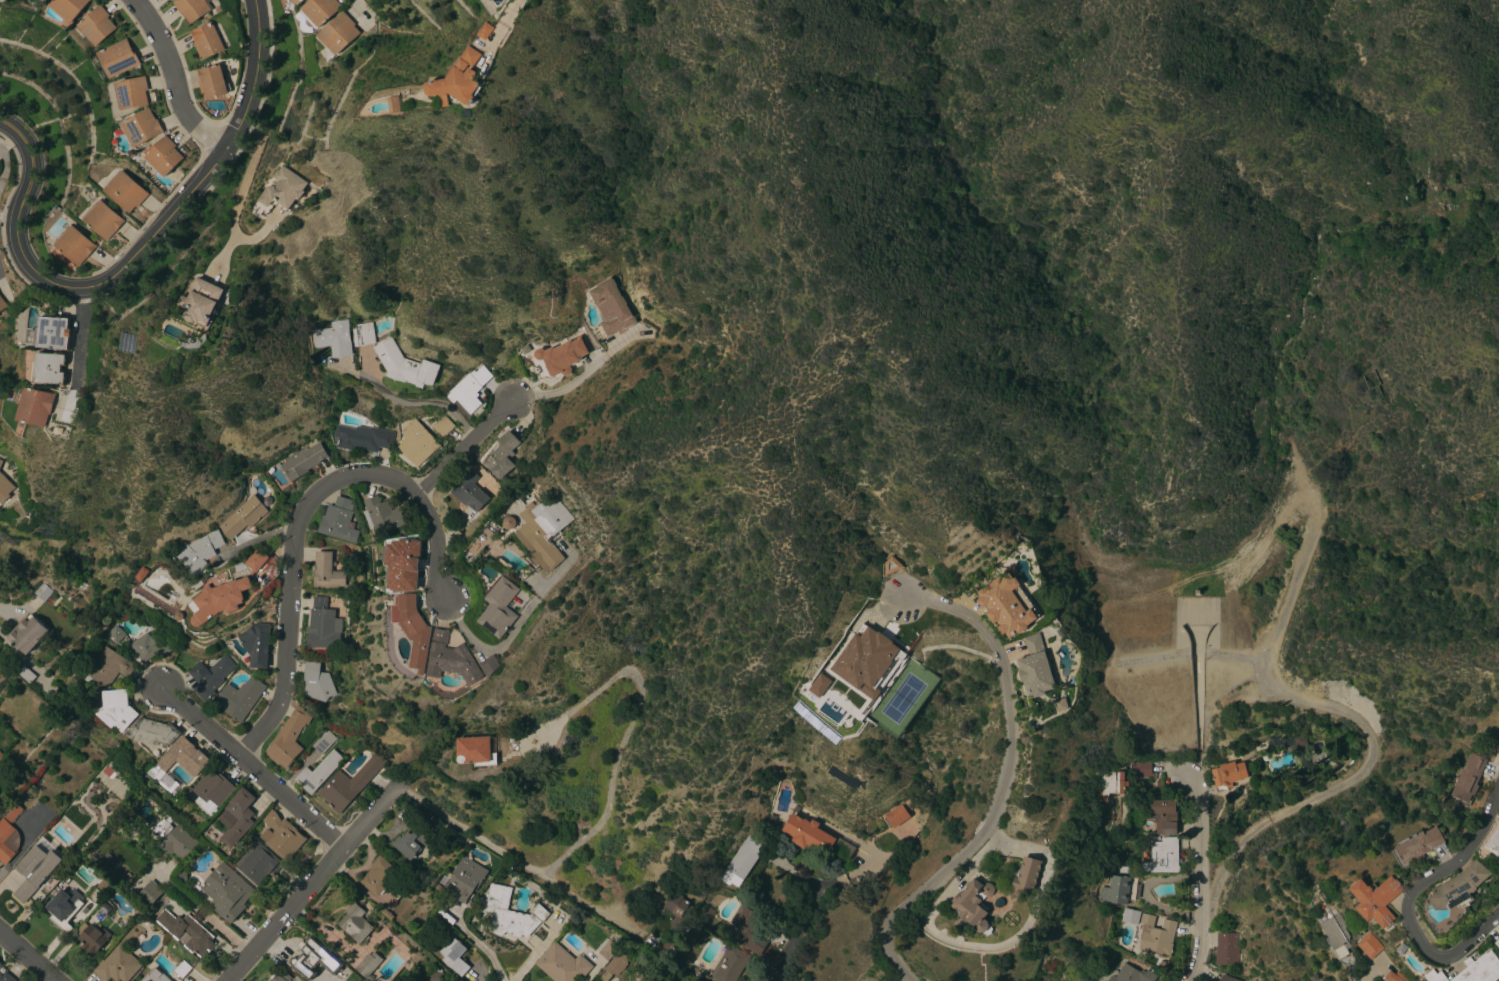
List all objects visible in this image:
building: (43, 0)
building: (44, 0)
building: (296, 2)
building: (69, 8)
building: (192, 8)
building: (319, 11)
road: (364, 11)
building: (97, 26)
building: (486, 31)
building: (337, 34)
building: (206, 40)
building: (119, 58)
road: (169, 80)
building: (460, 80)
building: (212, 82)
building: (133, 93)
building: (141, 127)
building: (163, 156)
building: (285, 189)
building: (125, 191)
road: (237, 206)
building: (102, 219)
building: (74, 245)
road: (138, 250)
building: (203, 302)
building: (2, 304)
building: (611, 307)
building: (52, 333)
building: (362, 334)
road: (78, 338)
building: (334, 338)
building: (560, 357)
building: (404, 365)
building: (49, 368)
road: (570, 384)
building: (469, 389)
road: (413, 403)
building: (37, 406)
building: (443, 426)
building: (363, 438)
building: (416, 442)
road: (467, 449)
building: (501, 455)
building: (0, 462)
building: (303, 462)
building: (4, 489)
building: (469, 492)
building: (382, 516)
building: (243, 517)
road: (295, 521)
building: (338, 521)
building: (540, 533)
building: (198, 552)
building: (256, 560)
building: (403, 564)
building: (891, 565)
building: (268, 566)
building: (326, 571)
building: (42, 592)
building: (218, 600)
building: (1006, 605)
building: (499, 607)
road: (17, 611)
building: (320, 624)
building: (414, 629)
building: (27, 633)
building: (115, 635)
building: (256, 644)
building: (151, 645)
road: (498, 651)
building: (452, 659)
building: (866, 661)
building: (490, 665)
building: (109, 668)
building: (1036, 668)
building: (26, 674)
building: (209, 676)
building: (318, 683)
building: (818, 685)
building: (239, 698)
building: (1061, 704)
building: (117, 710)
building: (153, 732)
road: (1370, 737)
building: (288, 739)
building: (1299, 740)
building: (323, 742)
building: (475, 751)
building: (183, 758)
road: (252, 770)
building: (1144, 770)
building: (318, 772)
building: (1228, 774)
building: (1469, 779)
road: (1007, 783)
building: (1109, 783)
building: (349, 784)
building: (212, 790)
building: (11, 811)
road: (611, 814)
building: (896, 816)
building: (1163, 816)
building: (237, 817)
building: (807, 834)
building: (281, 836)
building: (413, 838)
building: (8, 841)
building: (178, 842)
building: (1494, 842)
building: (1418, 846)
road: (25, 855)
building: (1162, 857)
road: (1200, 859)
building: (742, 861)
building: (258, 863)
road: (871, 868)
building: (34, 871)
building: (379, 876)
building: (1026, 877)
building: (465, 880)
road: (313, 883)
building: (1459, 887)
building: (1115, 891)
building: (227, 892)
building: (149, 894)
building: (1376, 900)
building: (973, 904)
road: (1409, 904)
building: (64, 909)
road: (601, 911)
building: (677, 912)
road: (206, 913)
building: (509, 913)
building: (1130, 916)
building: (355, 923)
building: (747, 928)
building: (186, 932)
building: (1156, 935)
building: (1338, 935)
road: (798, 936)
building: (92, 939)
road: (998, 943)
building: (1497, 943)
road: (481, 946)
building: (1370, 946)
road: (539, 948)
building: (666, 949)
building: (1226, 949)
building: (606, 950)
building: (455, 956)
road: (27, 957)
building: (312, 957)
road: (1198, 960)
building: (562, 963)
building: (368, 964)
building: (729, 964)
building: (0, 965)
building: (117, 966)
building: (612, 966)
building: (182, 969)
building: (1479, 969)
building: (1132, 974)
building: (435, 975)
building: (154, 976)
building: (1434, 976)
building: (6, 977)
building: (279, 977)
building: (1390, 977)
building: (1398, 977)
building: (1227, 978)

